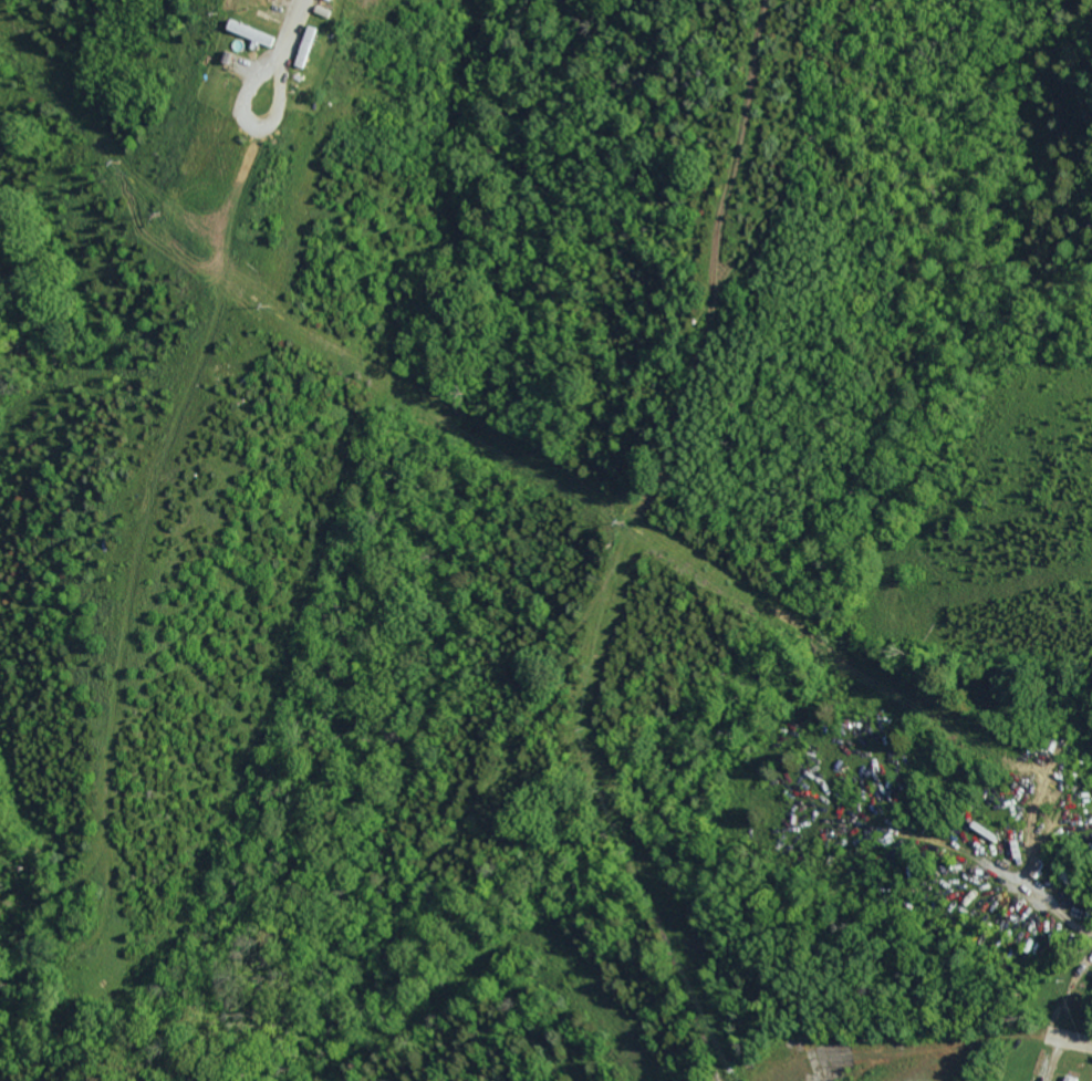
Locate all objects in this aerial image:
building: (337, 0)
building: (290, 1)
building: (329, 4)
building: (258, 33)
road: (298, 34)
building: (250, 37)
building: (306, 58)
road: (728, 60)
road: (249, 116)

